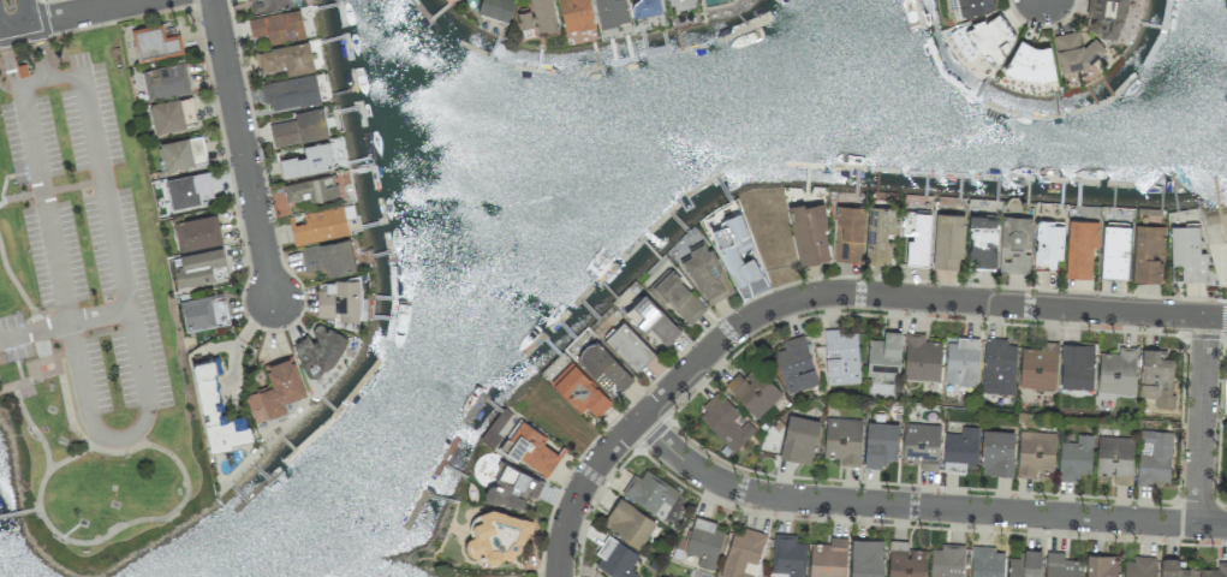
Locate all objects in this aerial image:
building: (679, 2)
building: (268, 4)
building: (975, 5)
building: (644, 7)
building: (494, 8)
road: (79, 11)
road: (18, 12)
building: (610, 12)
building: (574, 14)
building: (538, 16)
building: (1106, 17)
road: (11, 25)
building: (278, 26)
building: (990, 37)
building: (155, 41)
road: (4, 46)
road: (43, 46)
road: (8, 50)
building: (1076, 50)
building: (286, 58)
building: (1030, 60)
building: (166, 79)
building: (291, 93)
building: (173, 114)
building: (299, 127)
road: (244, 148)
building: (181, 153)
building: (306, 160)
road: (6, 179)
building: (187, 189)
building: (311, 189)
road: (53, 191)
building: (320, 225)
building: (197, 232)
building: (809, 233)
building: (848, 233)
building: (878, 234)
building: (917, 237)
building: (948, 239)
building: (983, 240)
building: (1048, 243)
building: (1015, 244)
building: (1079, 248)
building: (734, 249)
building: (1114, 250)
building: (1187, 251)
building: (1146, 252)
building: (328, 257)
parking lot: (88, 258)
building: (199, 267)
building: (705, 273)
road: (14, 284)
building: (677, 297)
road: (822, 297)
building: (339, 302)
building: (197, 313)
park: (89, 314)
building: (653, 319)
road: (65, 326)
road: (38, 331)
parking lot: (12, 338)
building: (627, 345)
building: (317, 350)
building: (883, 355)
building: (841, 356)
building: (921, 357)
building: (961, 361)
building: (794, 364)
building: (603, 365)
building: (1038, 365)
building: (1077, 365)
building: (999, 367)
building: (1116, 370)
road: (41, 376)
building: (1156, 376)
building: (275, 389)
building: (579, 389)
building: (754, 391)
road: (67, 408)
building: (216, 410)
building: (725, 422)
road: (1205, 422)
building: (798, 439)
building: (842, 439)
road: (118, 441)
building: (880, 444)
building: (921, 445)
building: (1226, 446)
building: (530, 448)
building: (960, 450)
building: (996, 452)
building: (1035, 452)
building: (1074, 457)
building: (1154, 457)
building: (1114, 458)
building: (512, 486)
building: (650, 492)
road: (923, 508)
road: (25, 513)
road: (8, 517)
road: (131, 522)
building: (629, 522)
building: (499, 535)
building: (704, 541)
building: (741, 552)
building: (787, 554)
building: (828, 558)
building: (866, 558)
building: (615, 559)
building: (904, 560)
building: (946, 560)
building: (985, 563)
building: (1025, 564)
building: (1060, 565)
building: (1102, 565)
building: (1139, 566)
building: (1174, 569)
building: (1214, 570)

